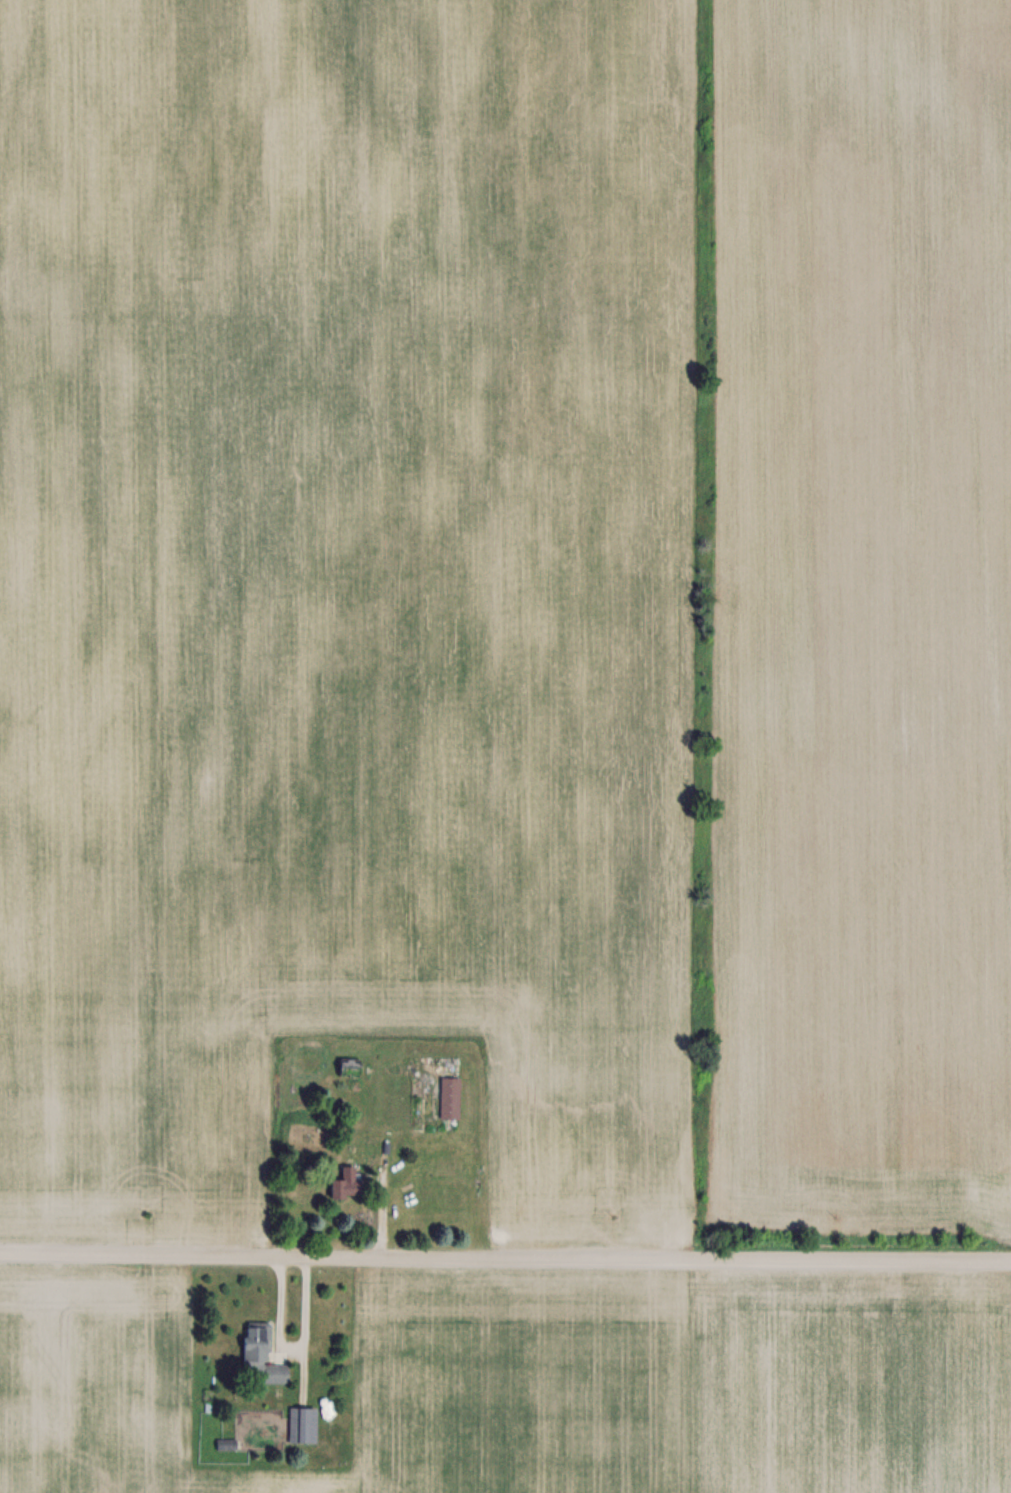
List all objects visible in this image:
building: (349, 1065)
building: (449, 1097)
building: (344, 1182)
road: (505, 1255)
road: (279, 1309)
road: (304, 1325)
building: (260, 1353)
building: (301, 1424)

